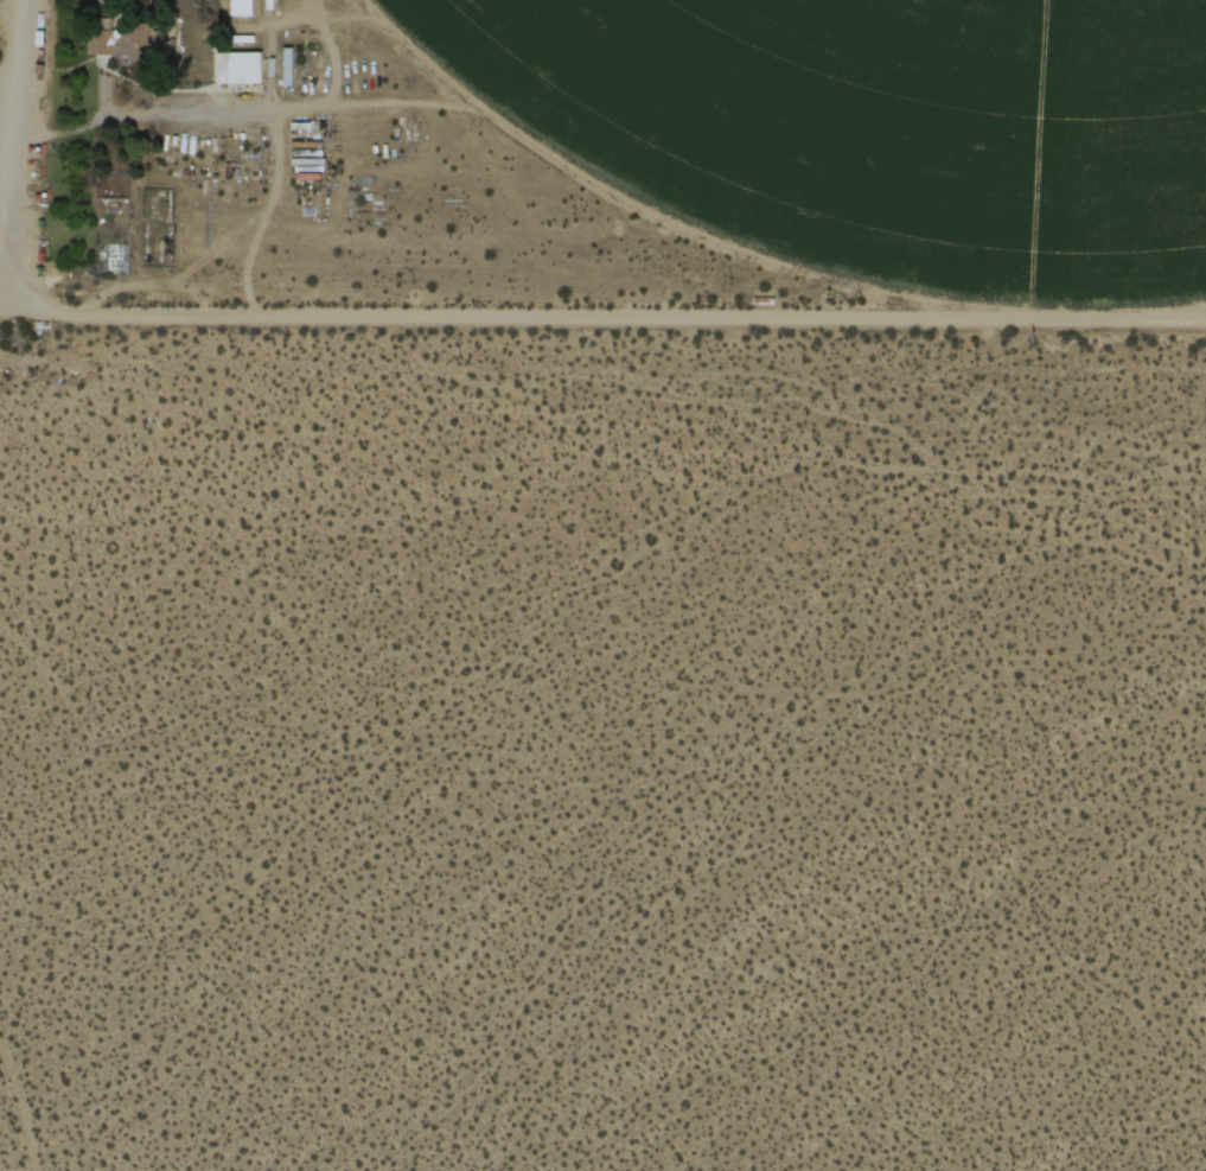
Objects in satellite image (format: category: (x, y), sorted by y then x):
building: (243, 6)
building: (127, 42)
building: (238, 66)
crop: (874, 127)
road: (633, 314)

